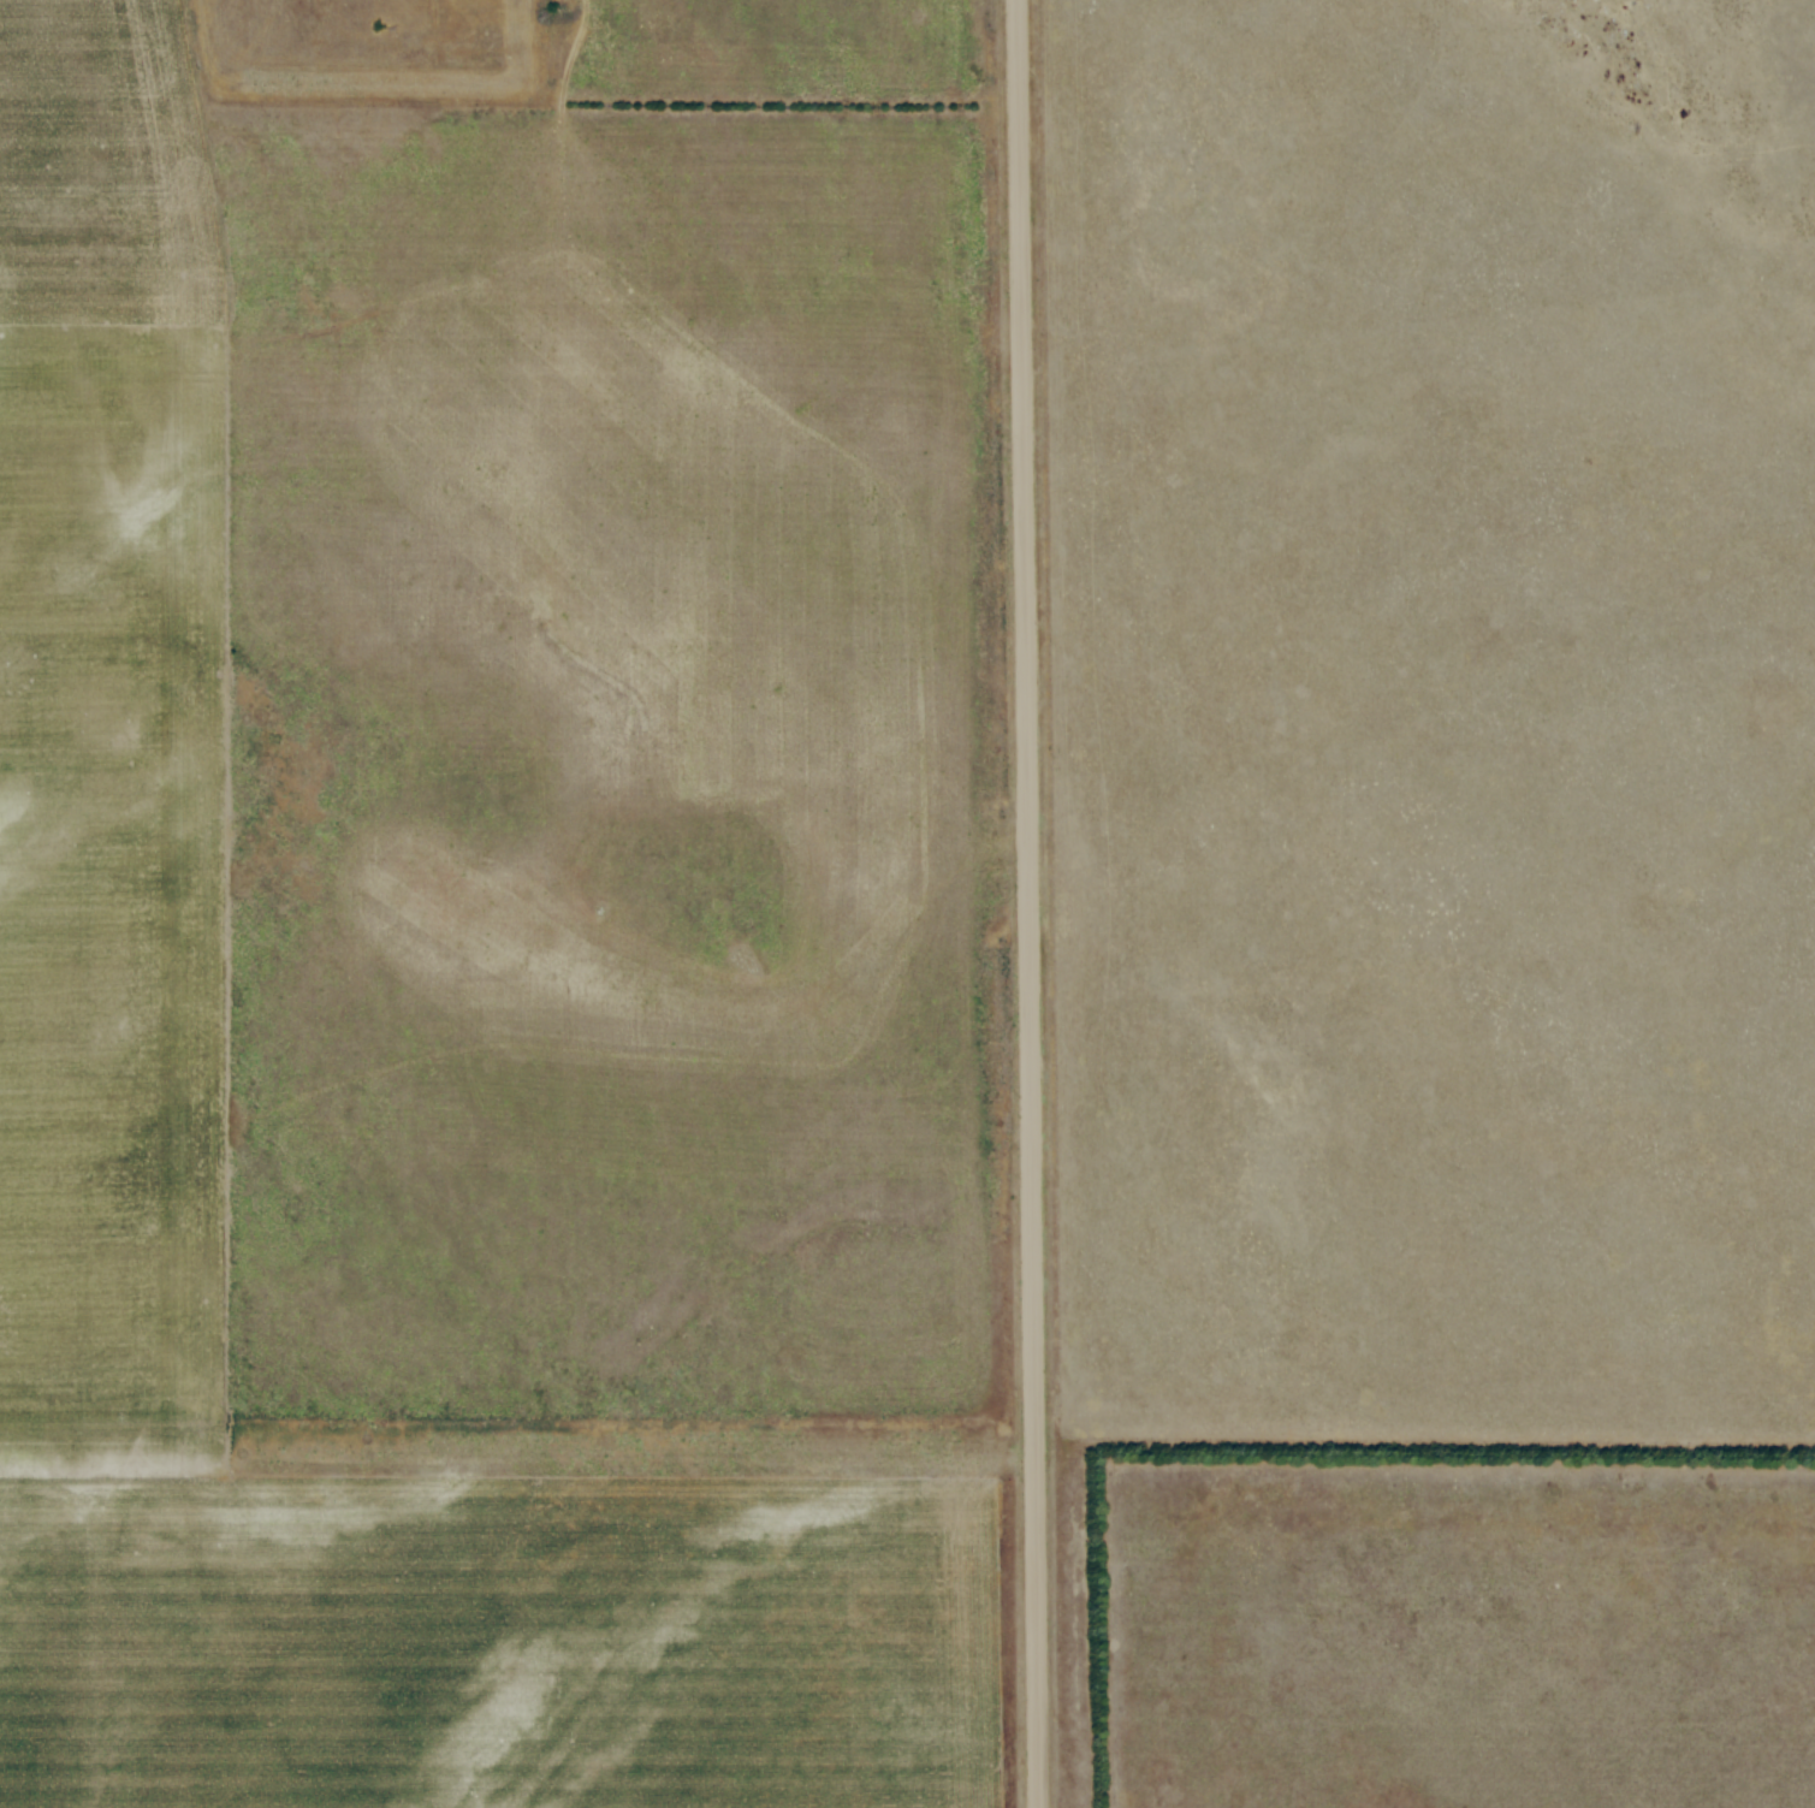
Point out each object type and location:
crop: (111, 895)
road: (1028, 903)

